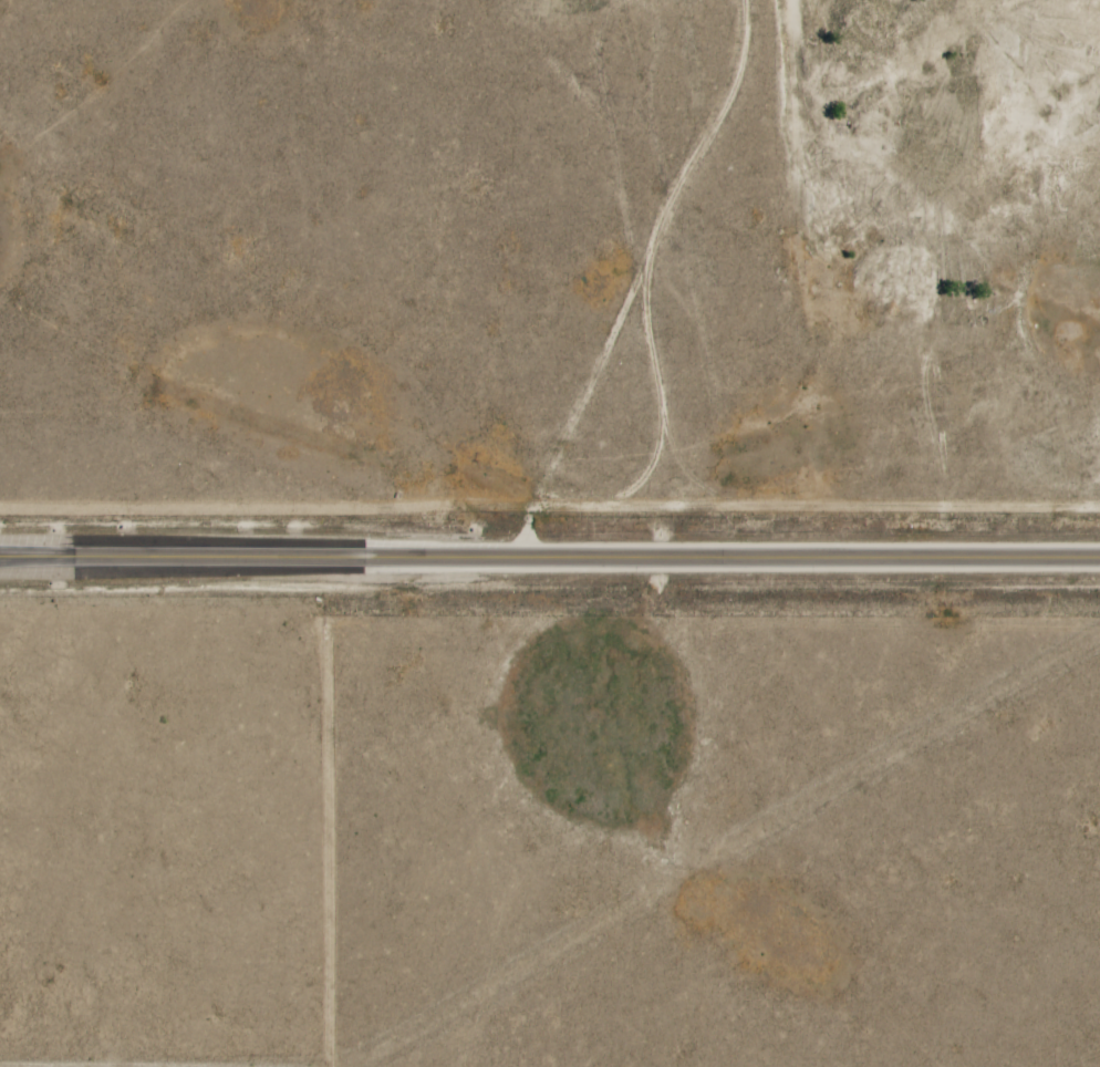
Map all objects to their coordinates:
road: (550, 560)

